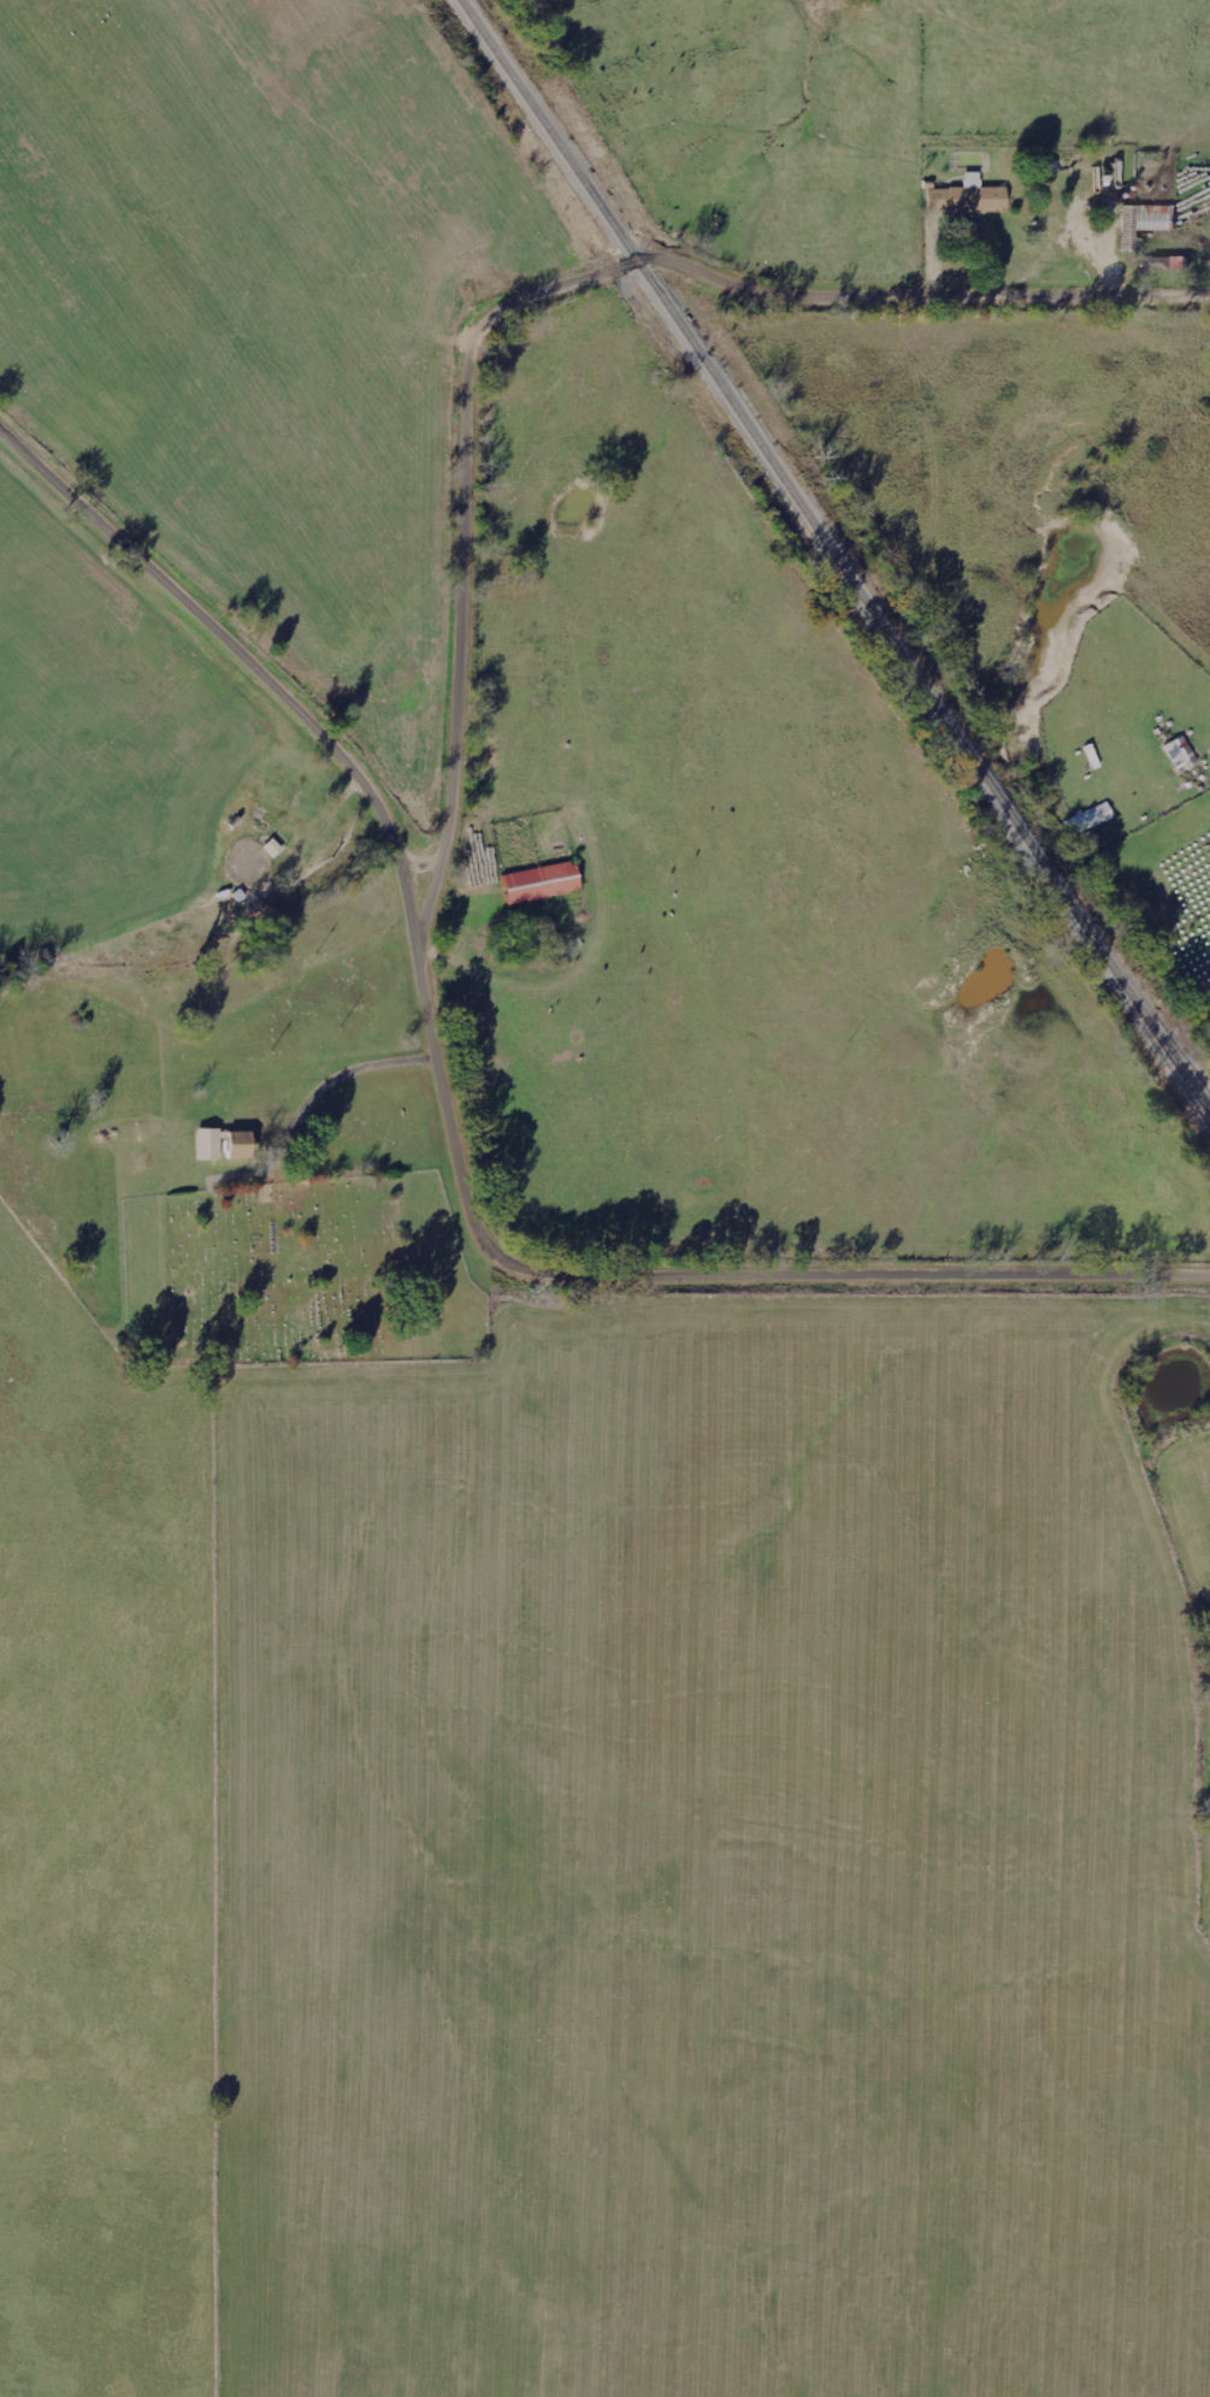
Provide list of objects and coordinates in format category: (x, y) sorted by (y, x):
building: (968, 197)
building: (1165, 262)
road: (541, 299)
railway: (833, 557)
building: (1180, 750)
building: (542, 882)
road: (455, 1114)
building: (209, 1144)
building: (241, 1144)

